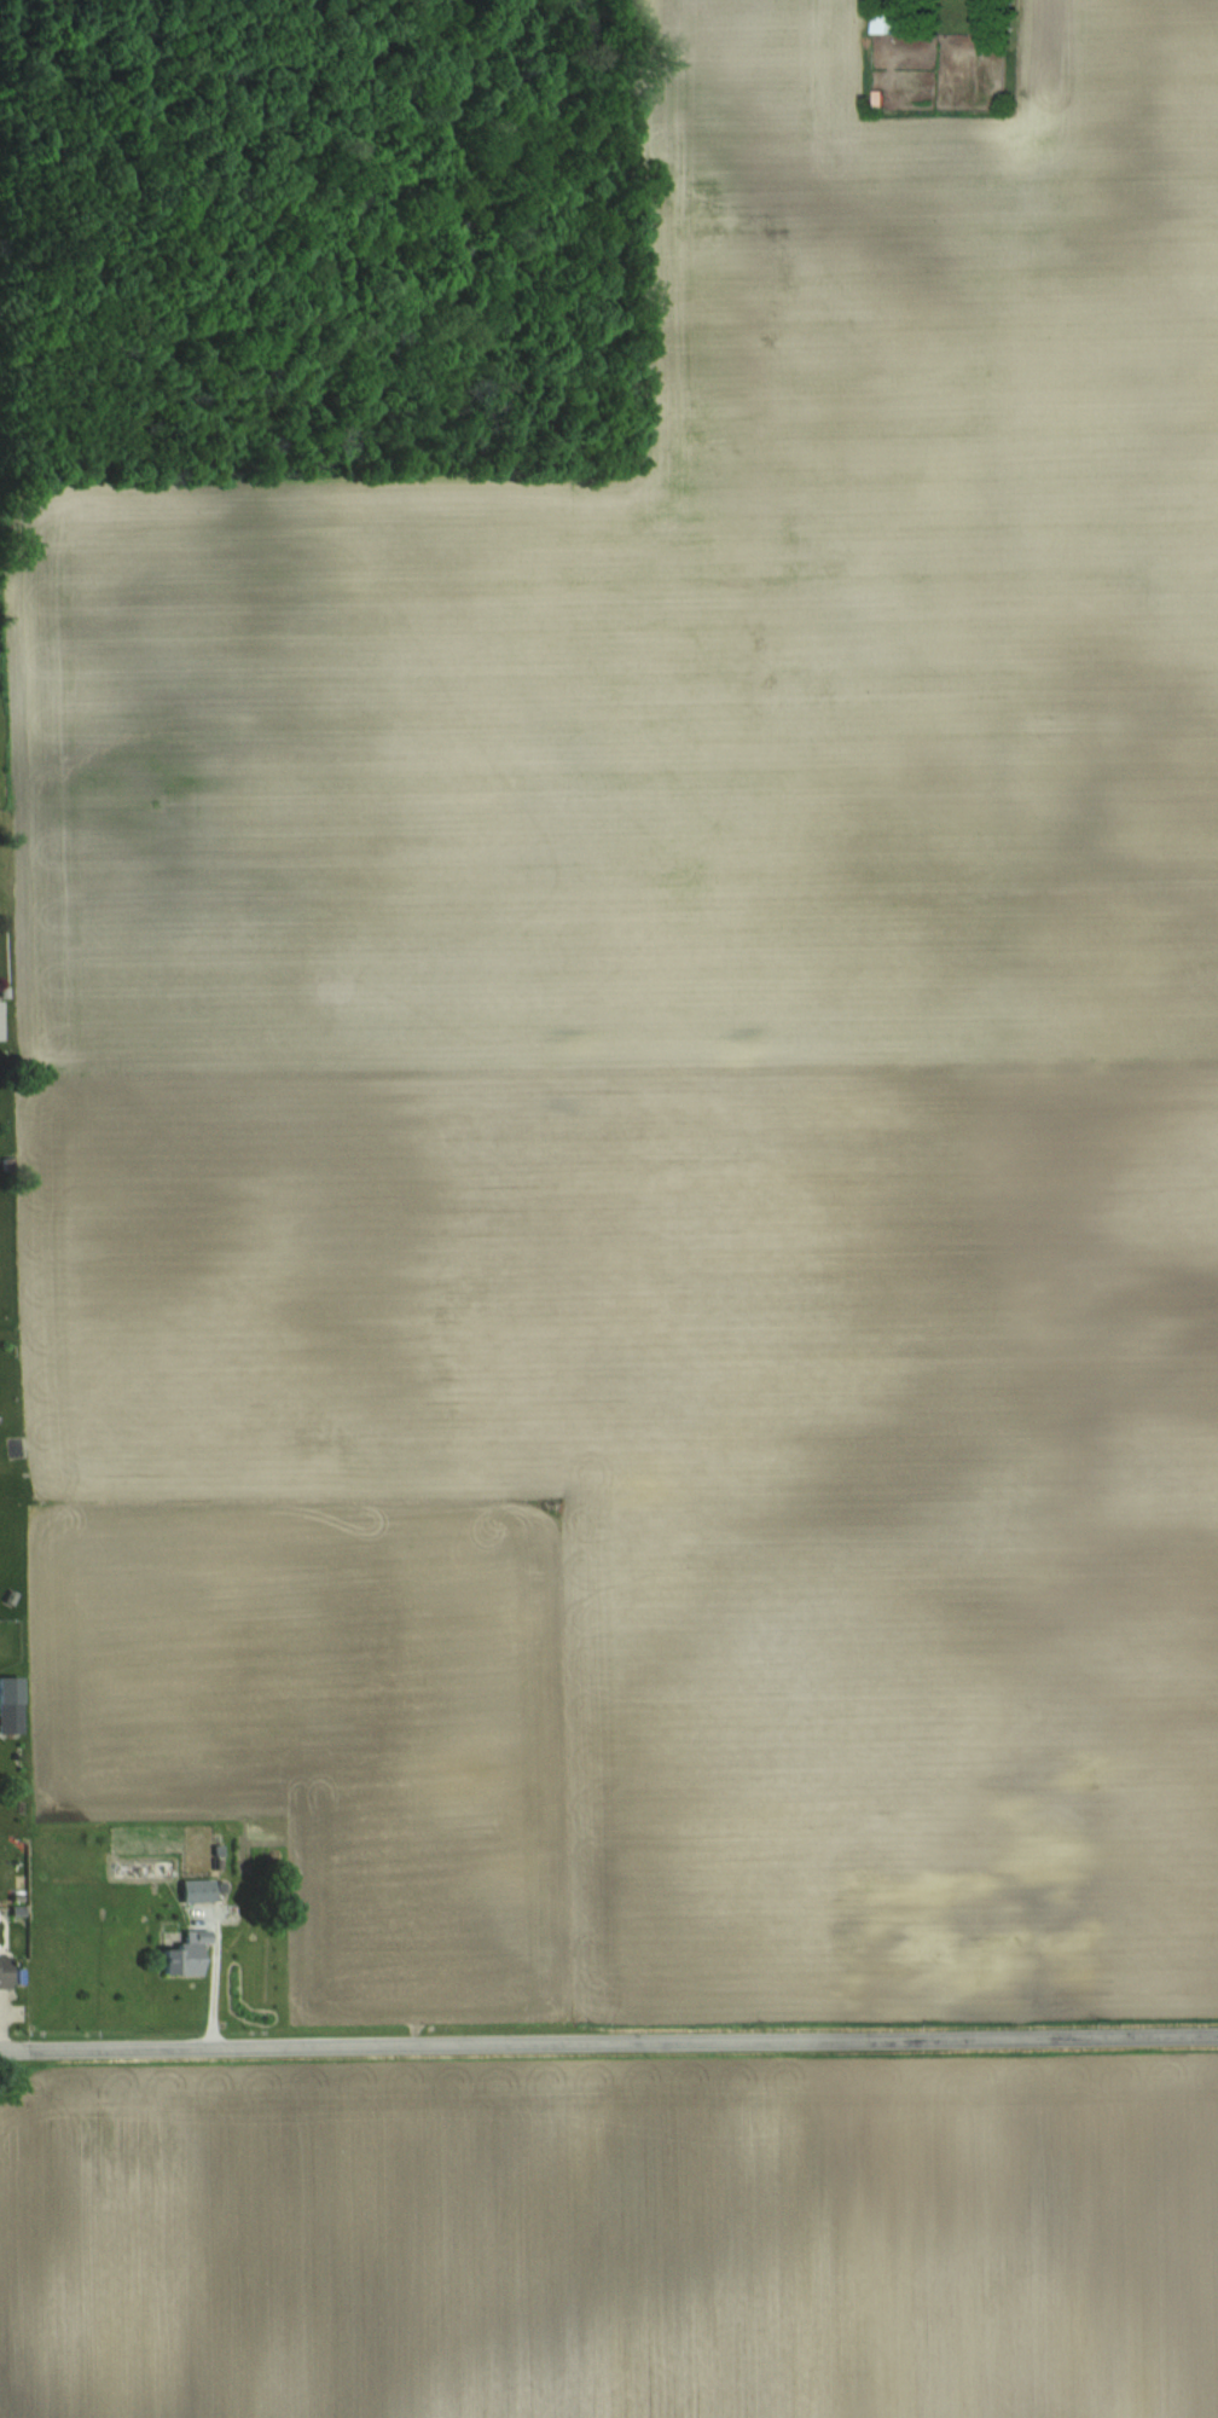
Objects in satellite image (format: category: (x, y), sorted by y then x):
building: (878, 24)
building: (141, 1868)
building: (196, 1891)
building: (184, 1953)
building: (4, 1971)
road: (639, 2043)
road: (30, 2051)

